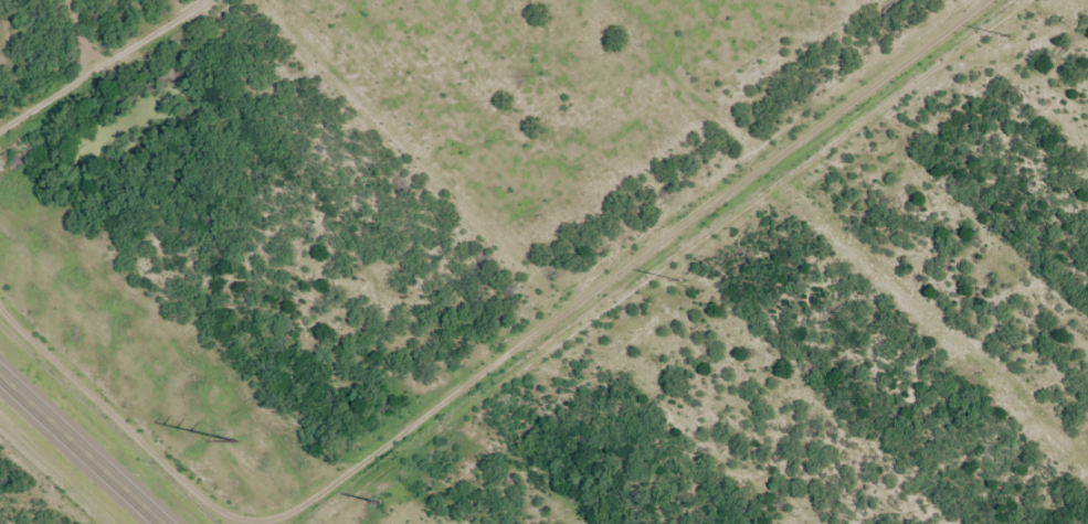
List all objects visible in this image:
road: (98, 62)
power tower: (236, 443)
road: (84, 447)

